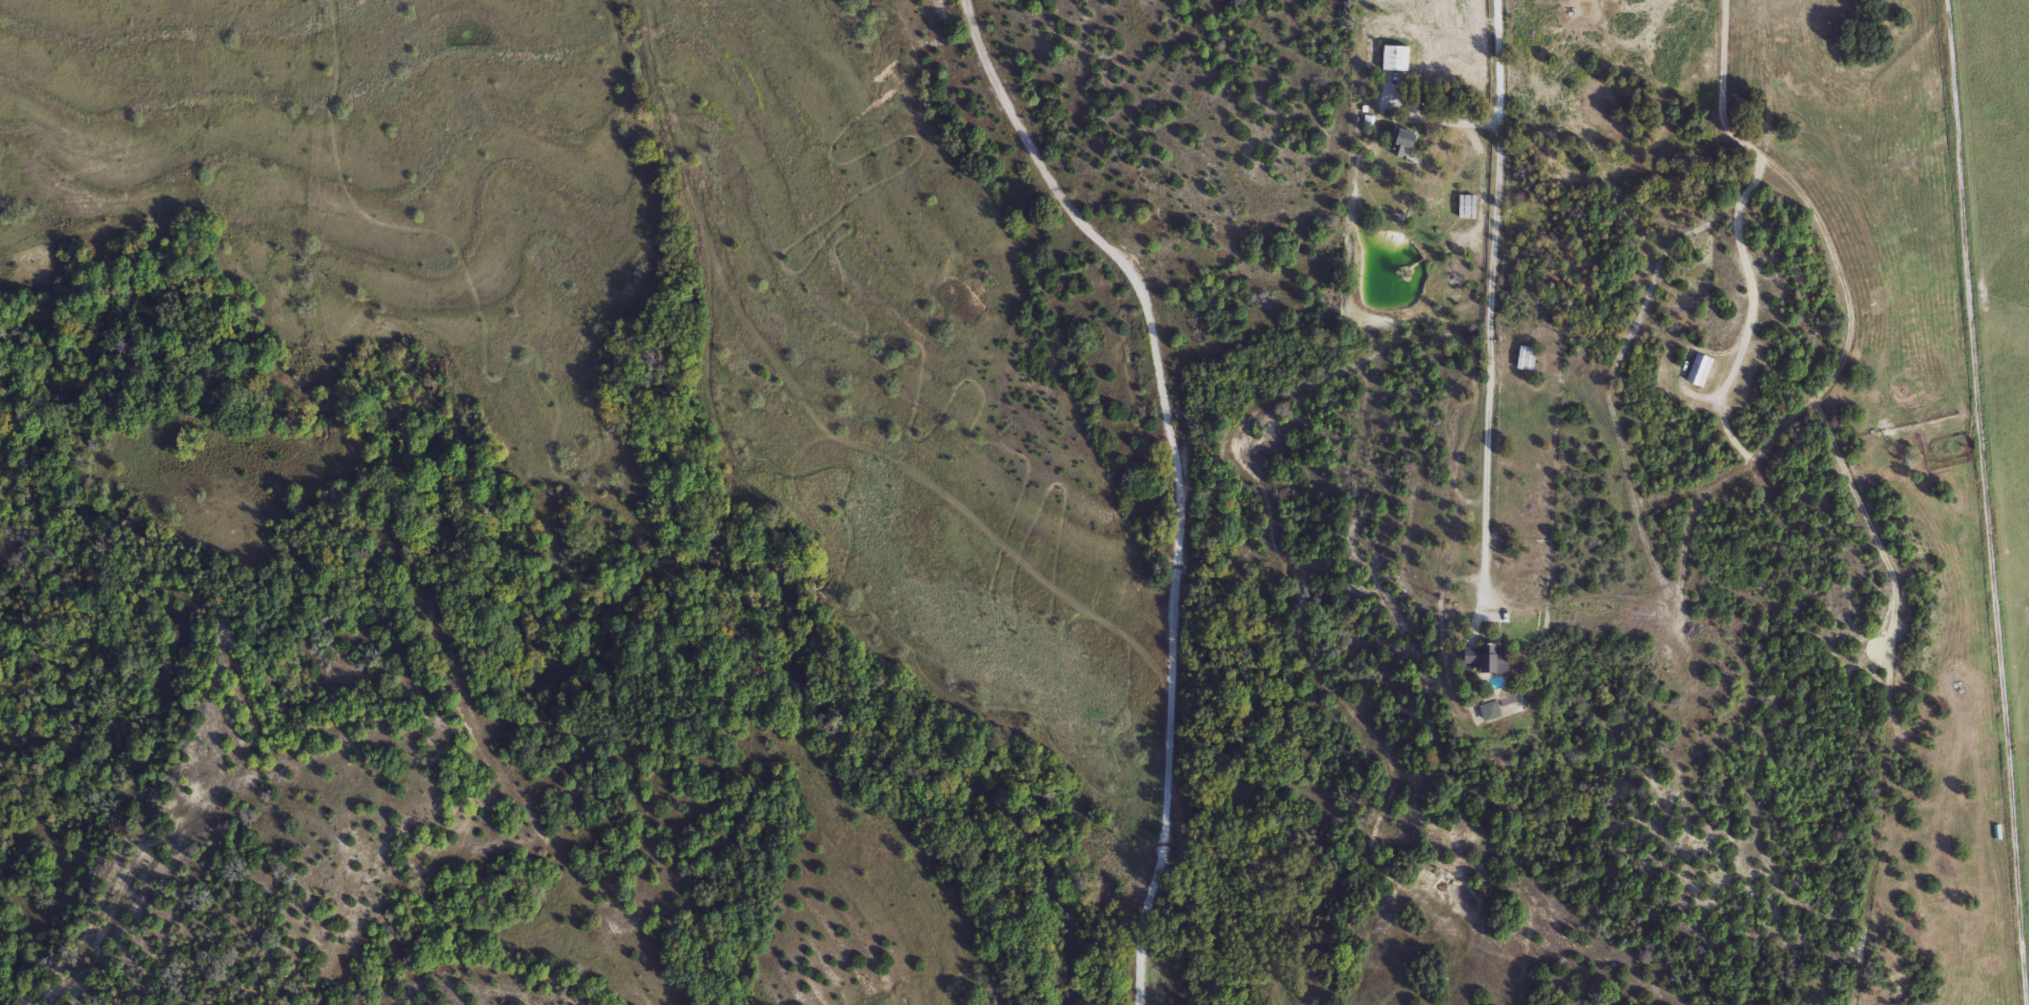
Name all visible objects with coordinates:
building: (1393, 58)
road: (1436, 119)
road: (1750, 182)
road: (1491, 286)
building: (1524, 358)
building: (1697, 370)
road: (1177, 476)
road: (1984, 502)
road: (1480, 610)
road: (1439, 640)
building: (1485, 658)
building: (1487, 712)

